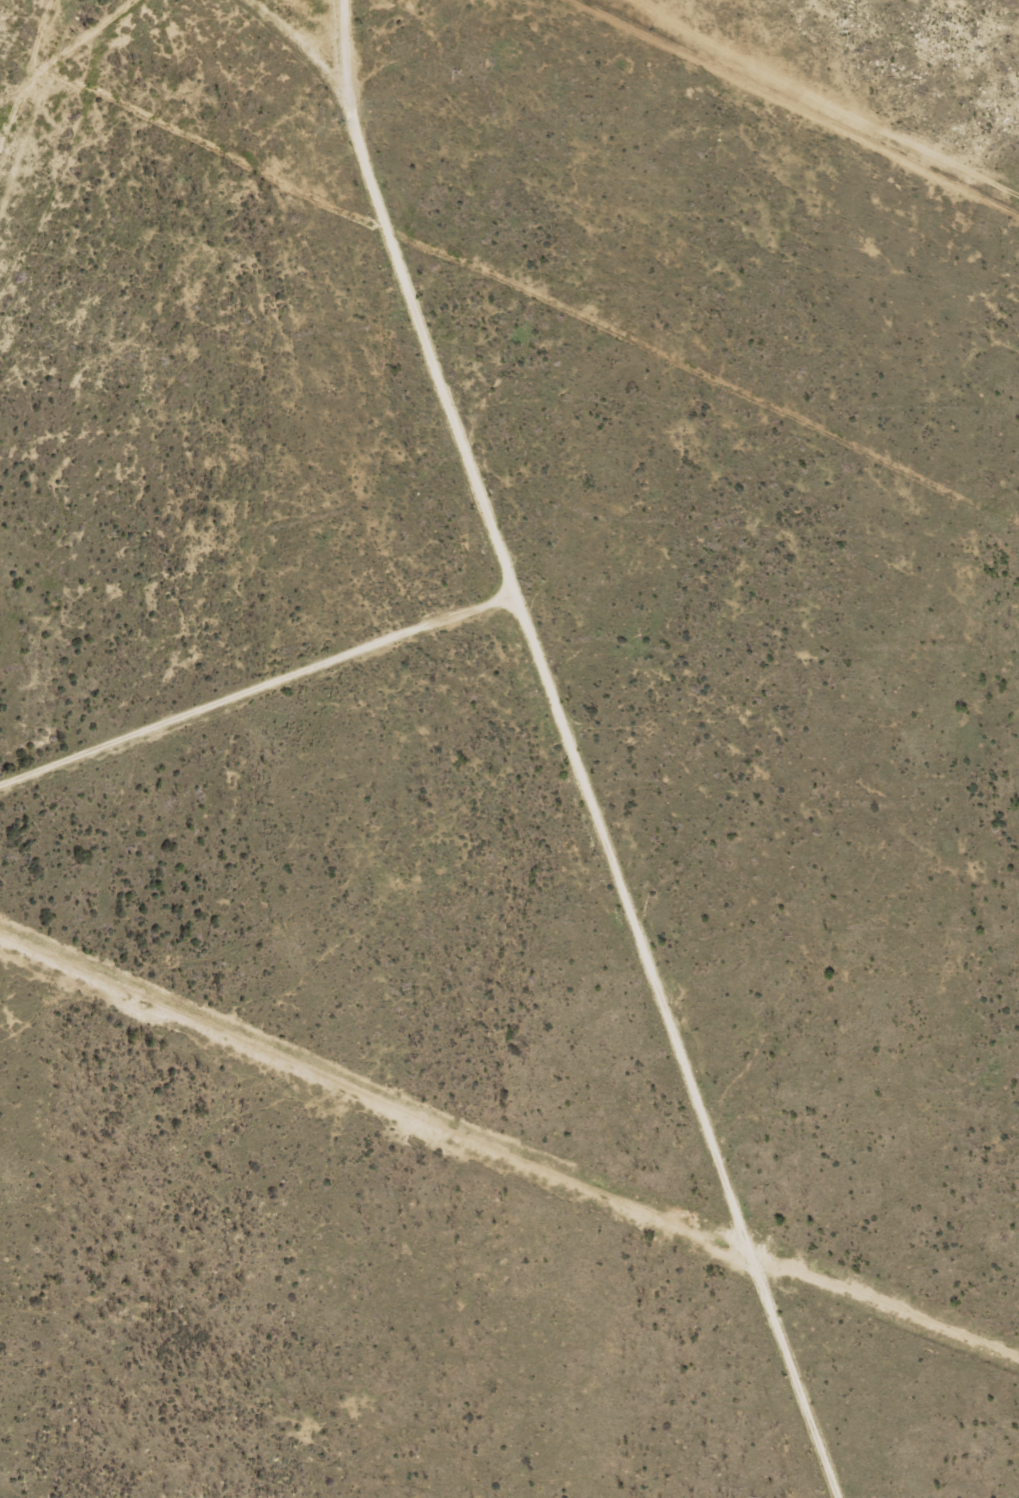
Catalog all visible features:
road: (91, 183)
road: (558, 720)

